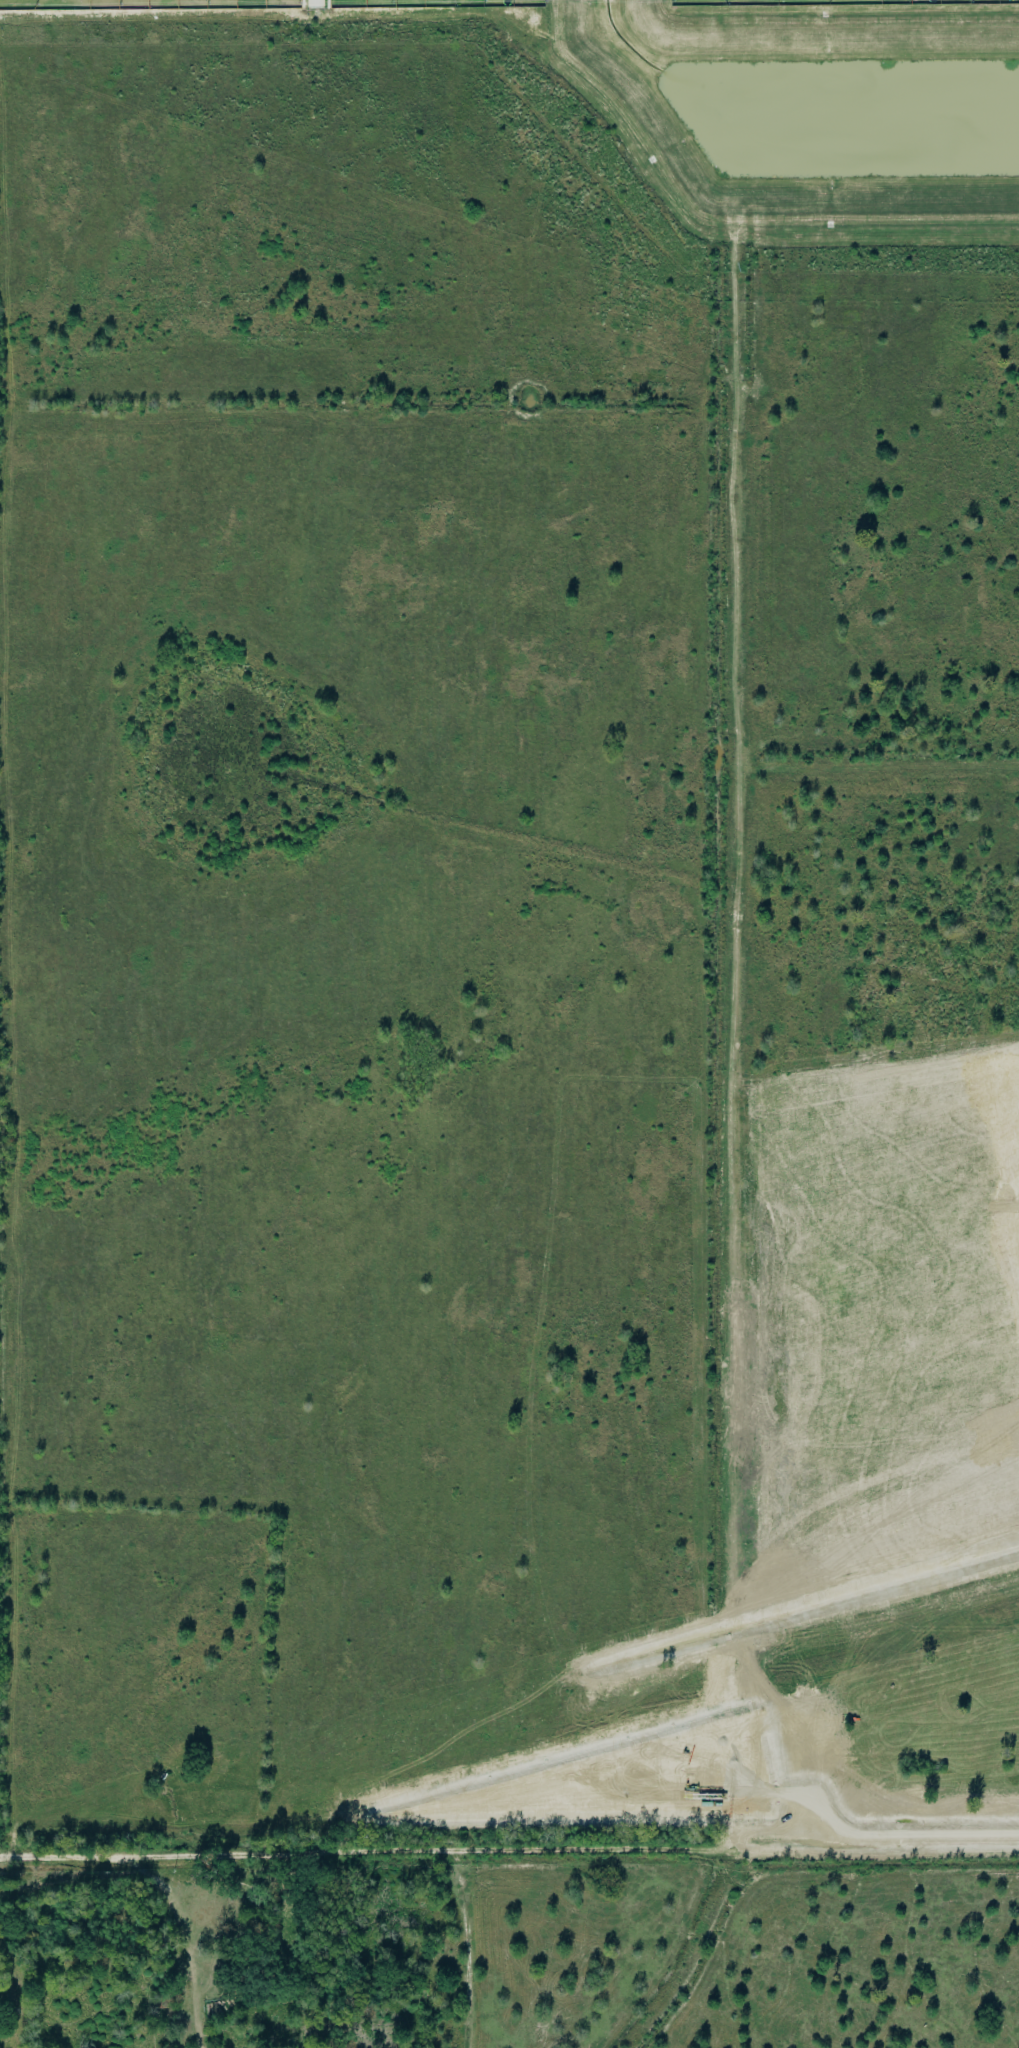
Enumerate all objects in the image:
road: (314, 3)
road: (902, 319)
road: (827, 398)
road: (796, 627)
road: (226, 1860)

